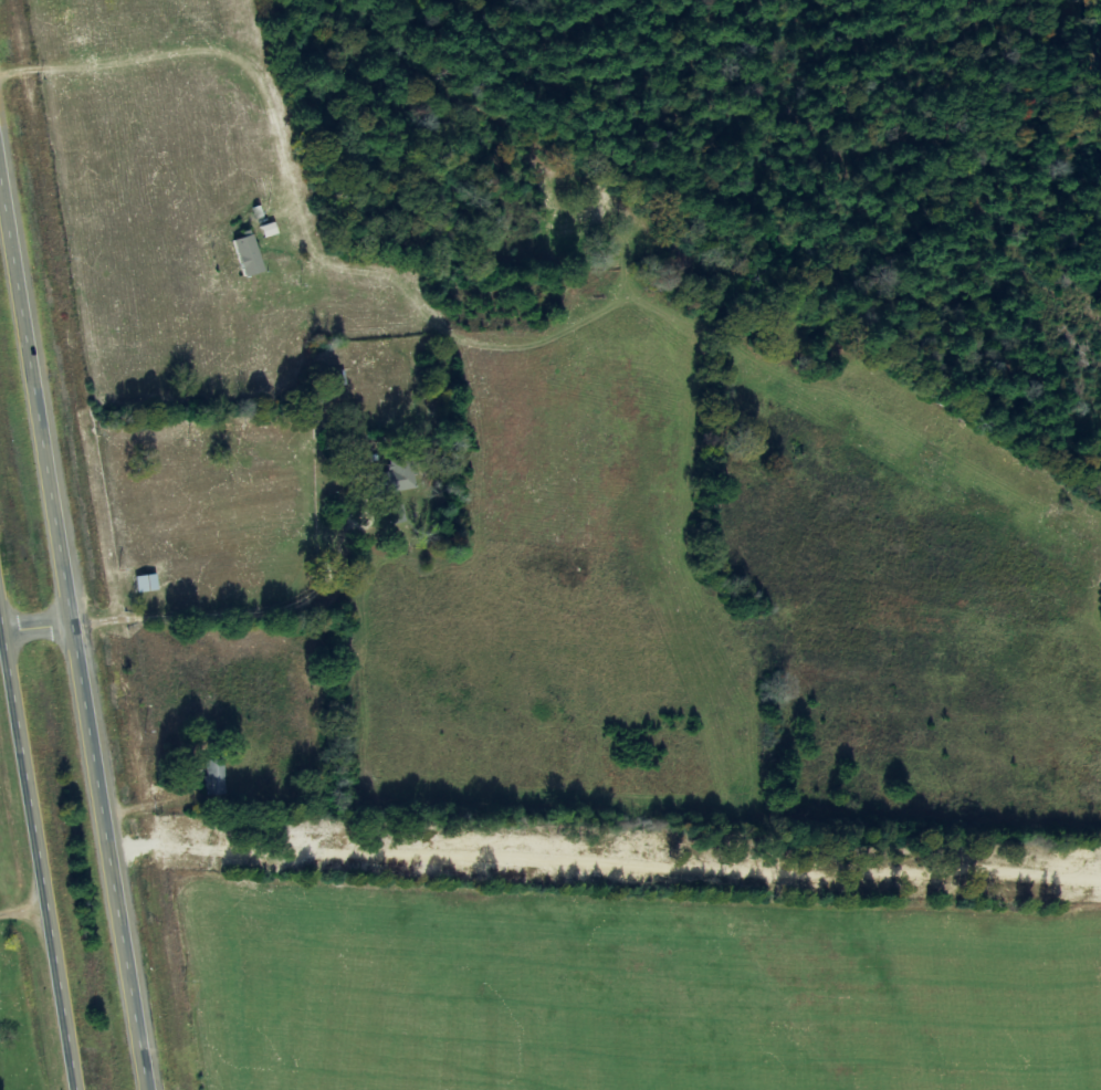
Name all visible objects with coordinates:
building: (249, 254)
road: (200, 275)
building: (396, 478)
road: (80, 610)
building: (216, 778)
road: (43, 824)

